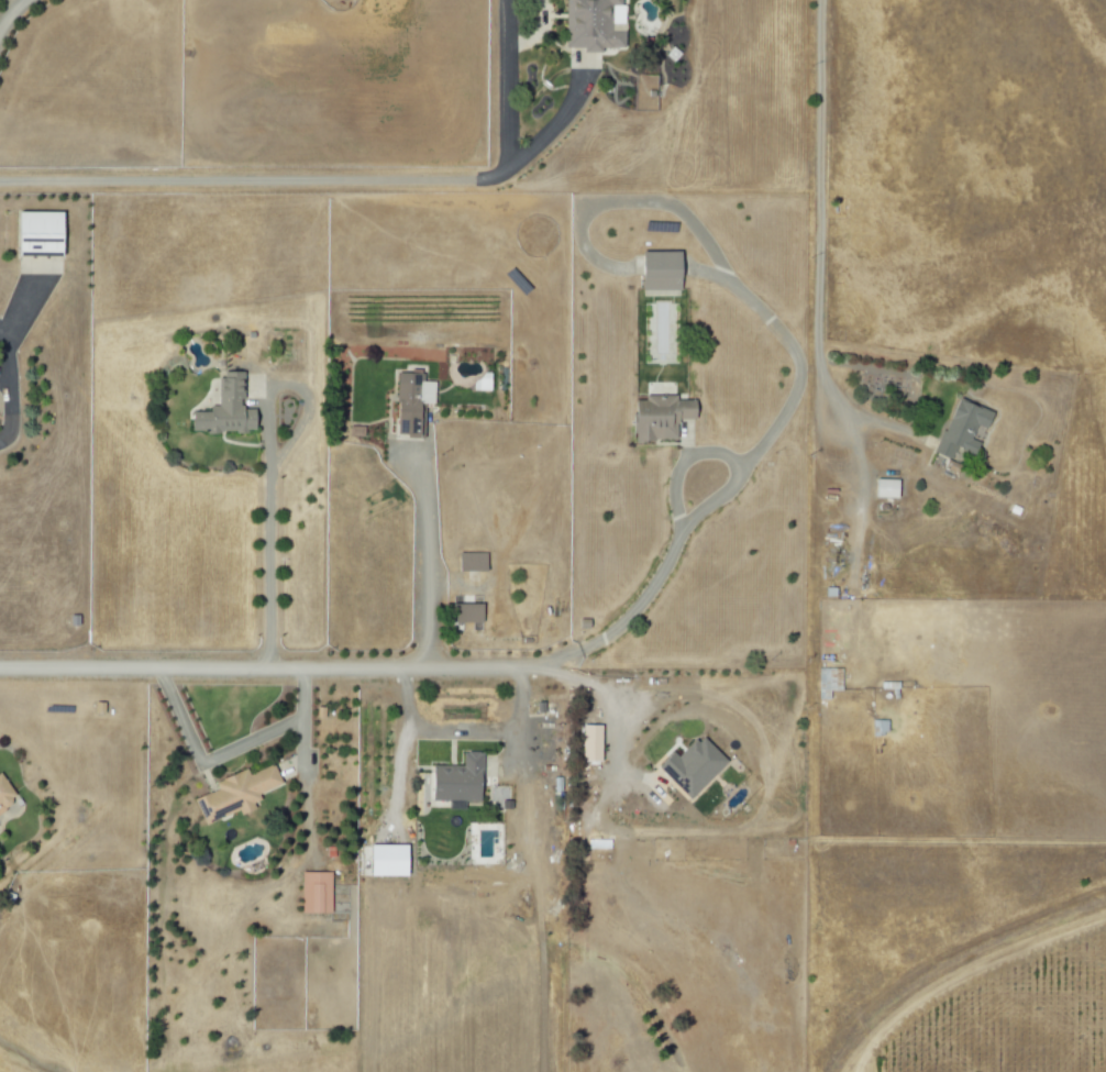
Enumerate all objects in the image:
road: (10, 13)
building: (591, 25)
road: (307, 180)
road: (821, 181)
building: (34, 233)
building: (656, 270)
road: (744, 290)
road: (7, 384)
building: (408, 404)
building: (222, 409)
road: (854, 416)
building: (656, 417)
building: (959, 428)
building: (884, 488)
road: (272, 553)
road: (432, 560)
building: (469, 562)
building: (464, 614)
road: (364, 666)
road: (608, 692)
road: (463, 727)
building: (588, 743)
road: (232, 753)
building: (689, 767)
building: (454, 780)
building: (4, 794)
building: (232, 794)
building: (384, 861)
building: (313, 892)

